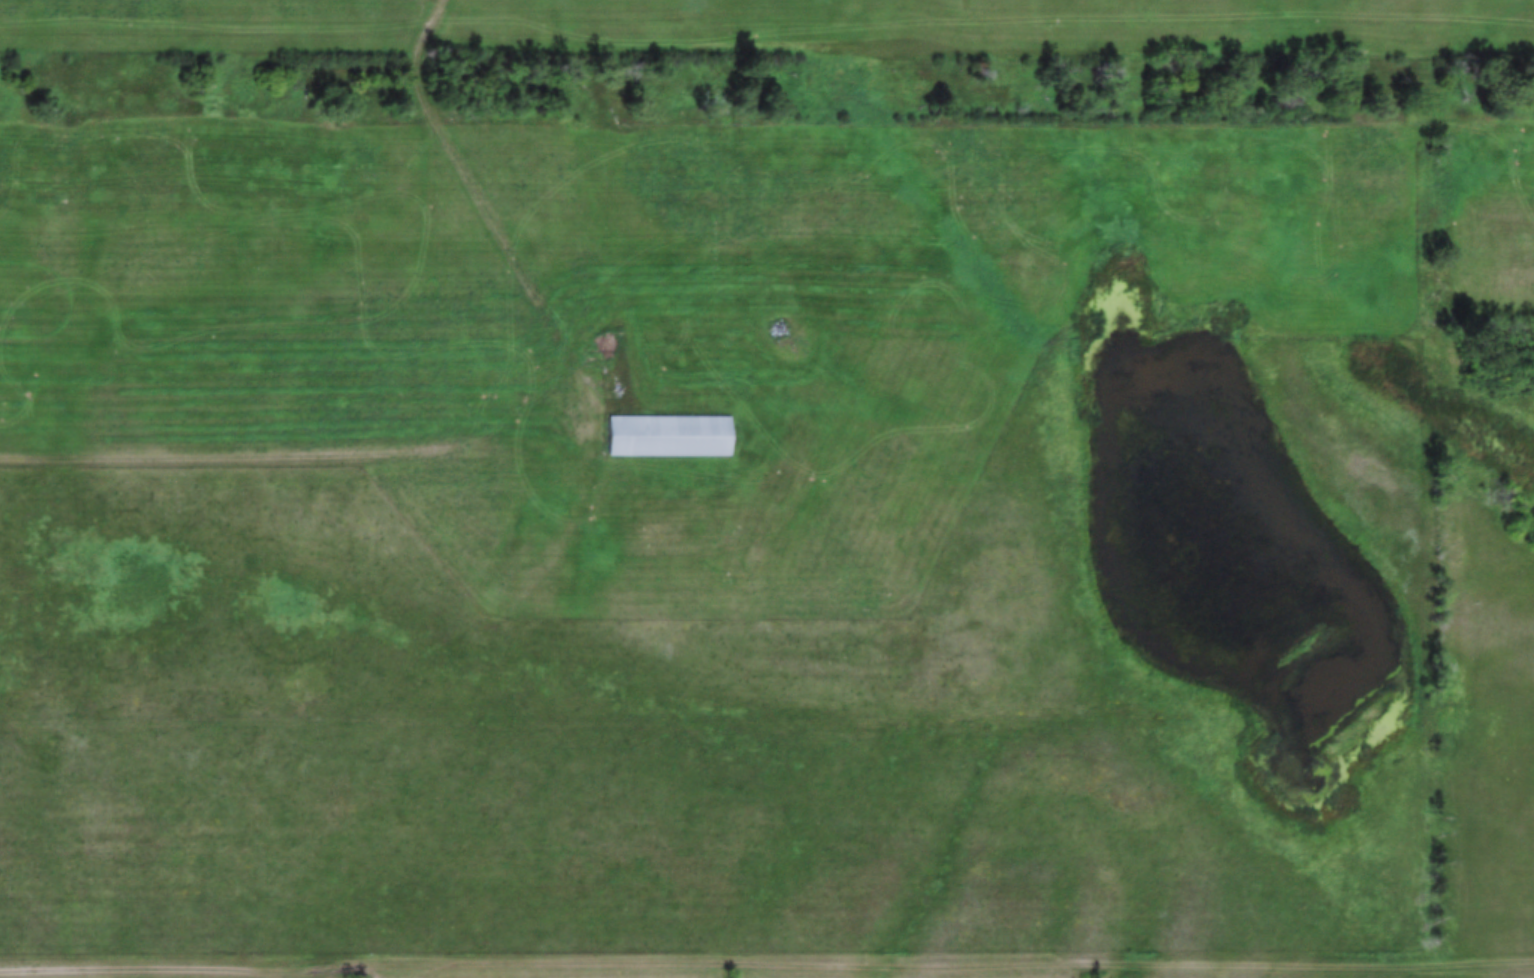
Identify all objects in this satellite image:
road: (501, 238)
road: (590, 399)
building: (665, 434)
road: (226, 455)

